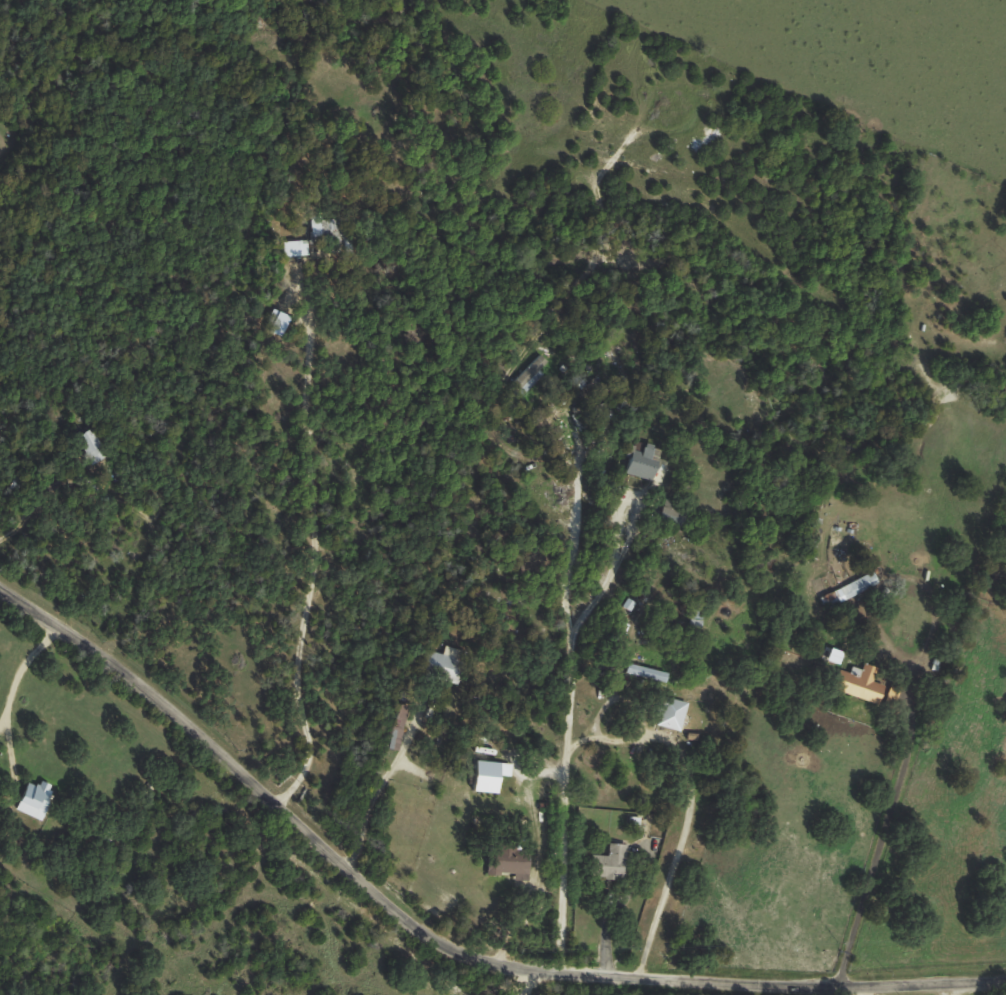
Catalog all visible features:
building: (327, 225)
building: (314, 229)
building: (294, 248)
building: (530, 373)
building: (643, 462)
road: (21, 518)
road: (312, 556)
road: (602, 580)
building: (847, 590)
building: (447, 661)
road: (20, 665)
building: (646, 672)
building: (865, 685)
road: (563, 689)
building: (674, 714)
building: (397, 730)
building: (489, 776)
road: (377, 787)
building: (35, 800)
road: (688, 802)
road: (873, 852)
building: (616, 860)
building: (511, 863)
road: (441, 940)

